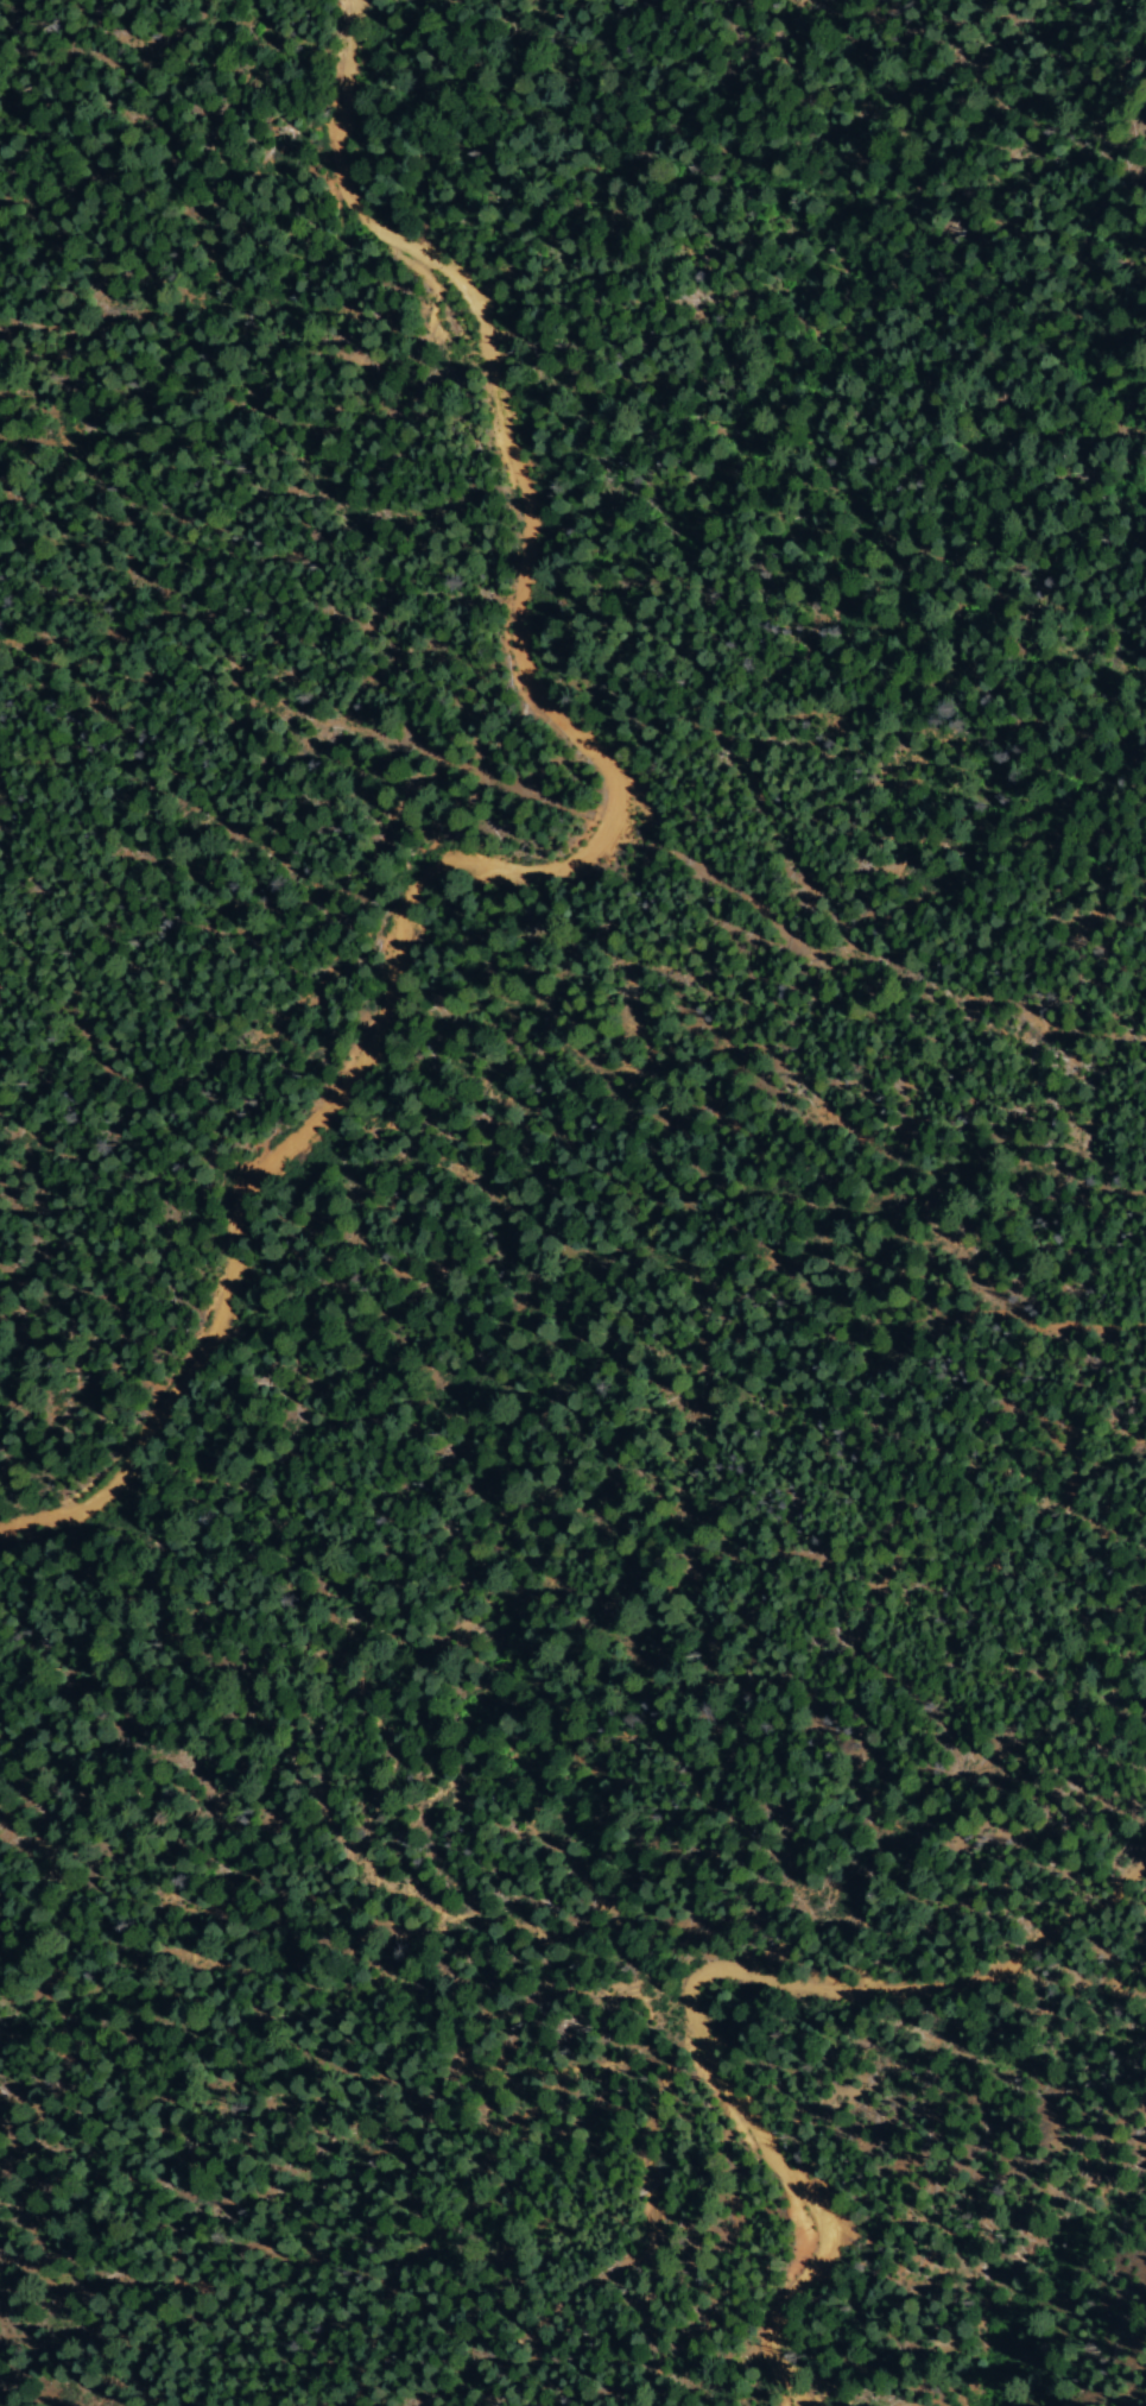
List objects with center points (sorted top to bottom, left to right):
road: (802, 2057)

